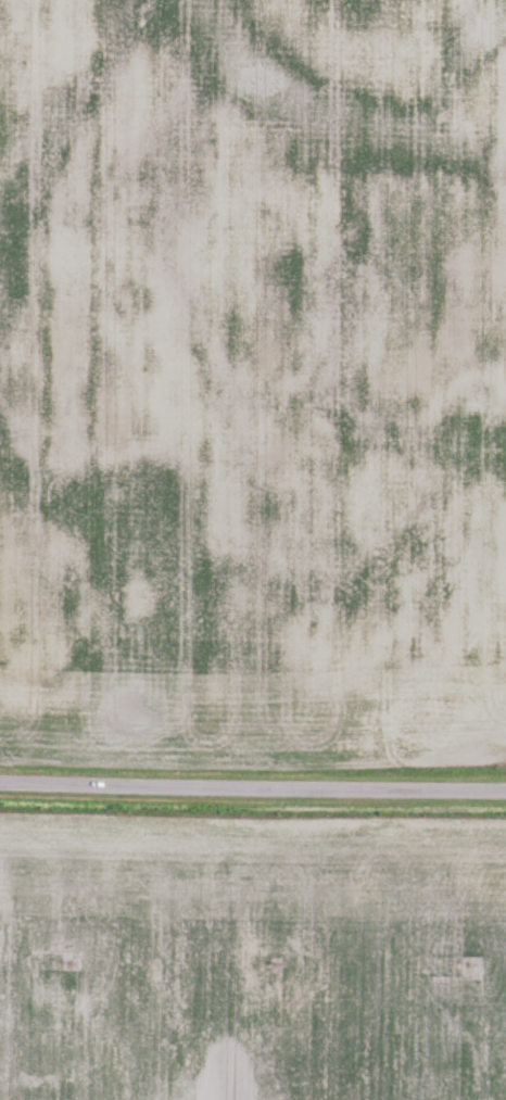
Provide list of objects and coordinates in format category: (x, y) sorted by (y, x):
road: (252, 797)

